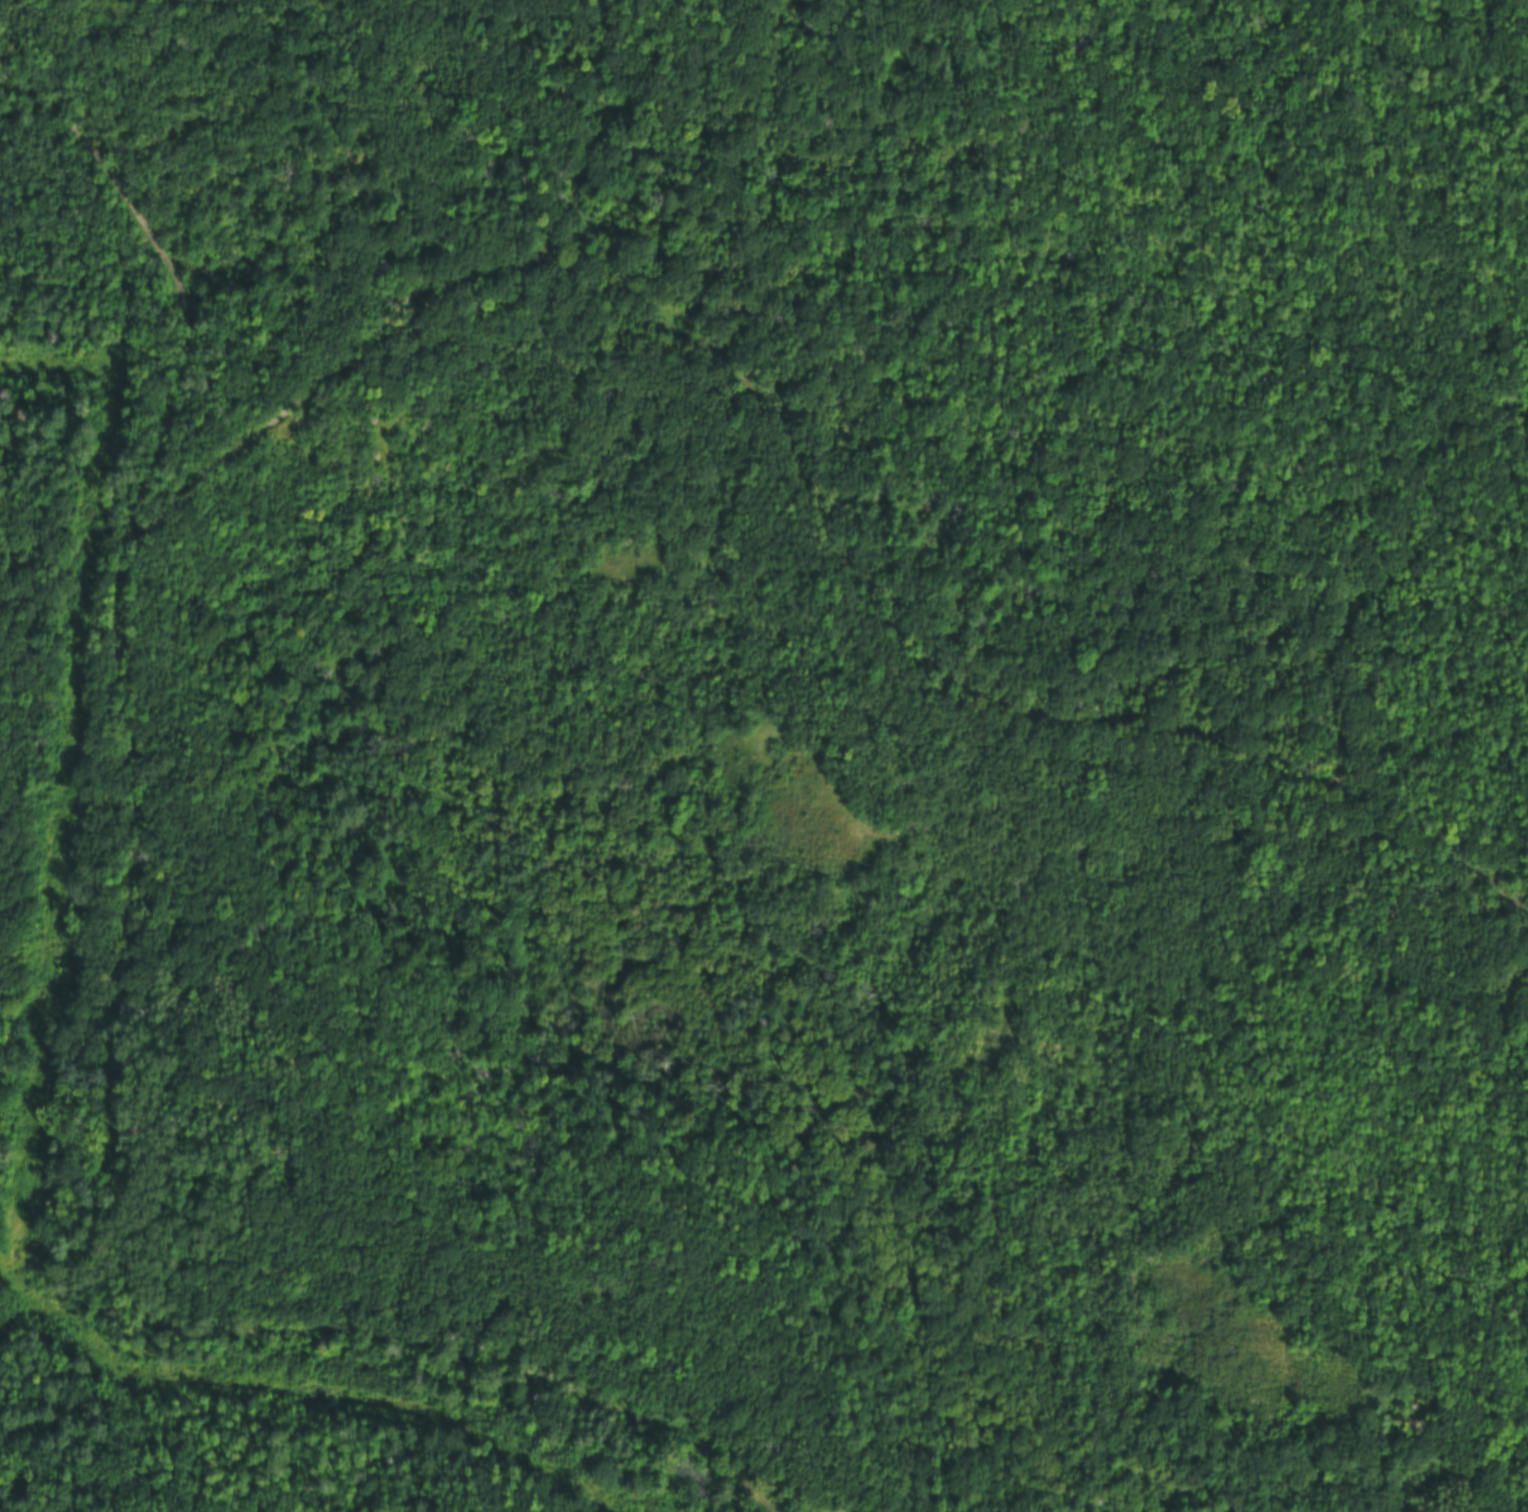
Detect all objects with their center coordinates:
road: (436, 299)
road: (962, 678)
road: (125, 997)

